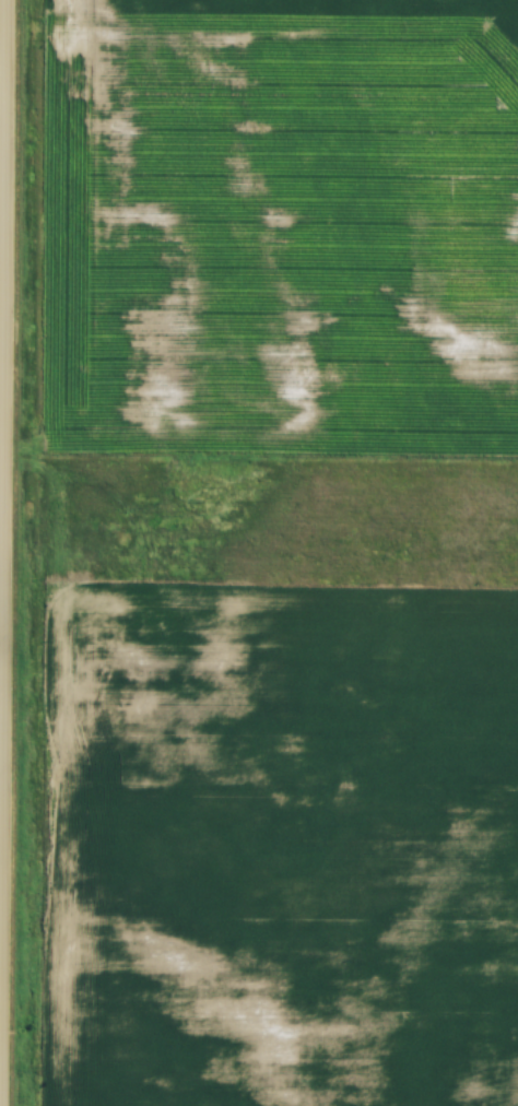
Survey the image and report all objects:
road: (3, 553)

